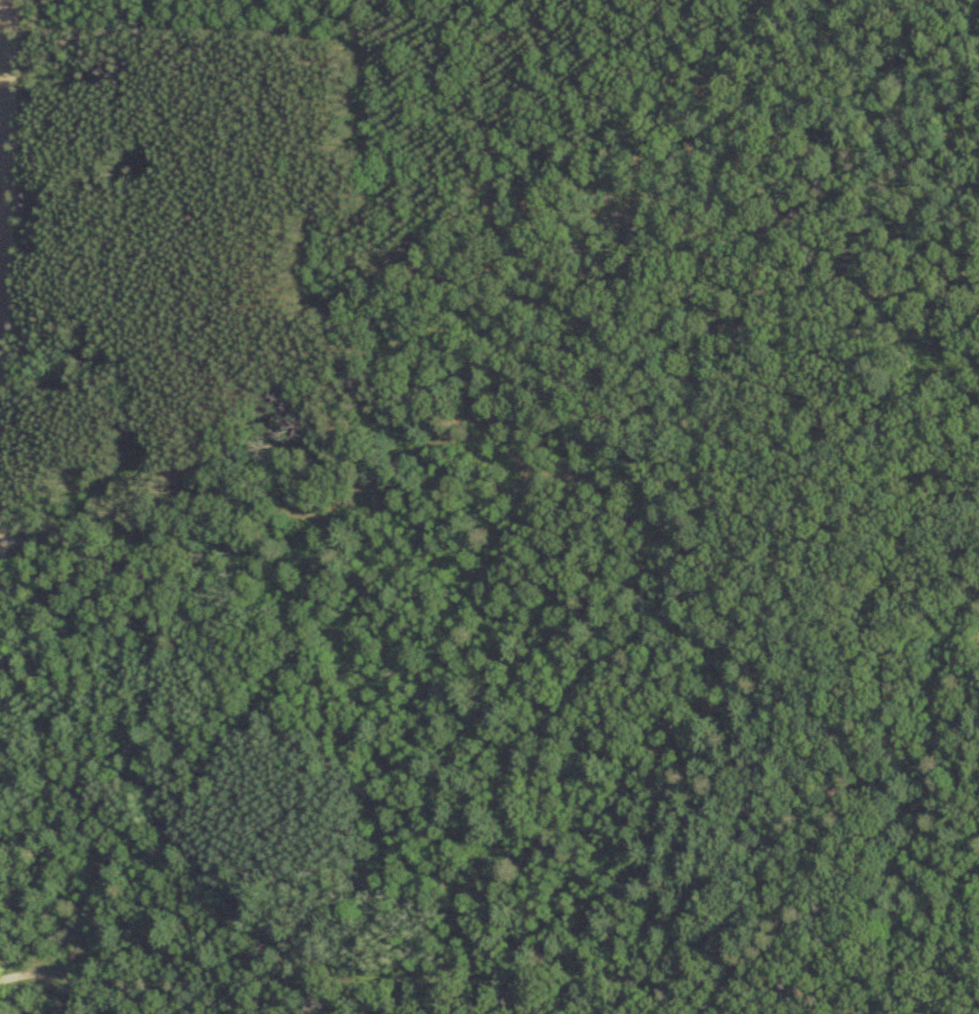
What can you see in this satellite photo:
road: (0, 34)
road: (489, 963)

